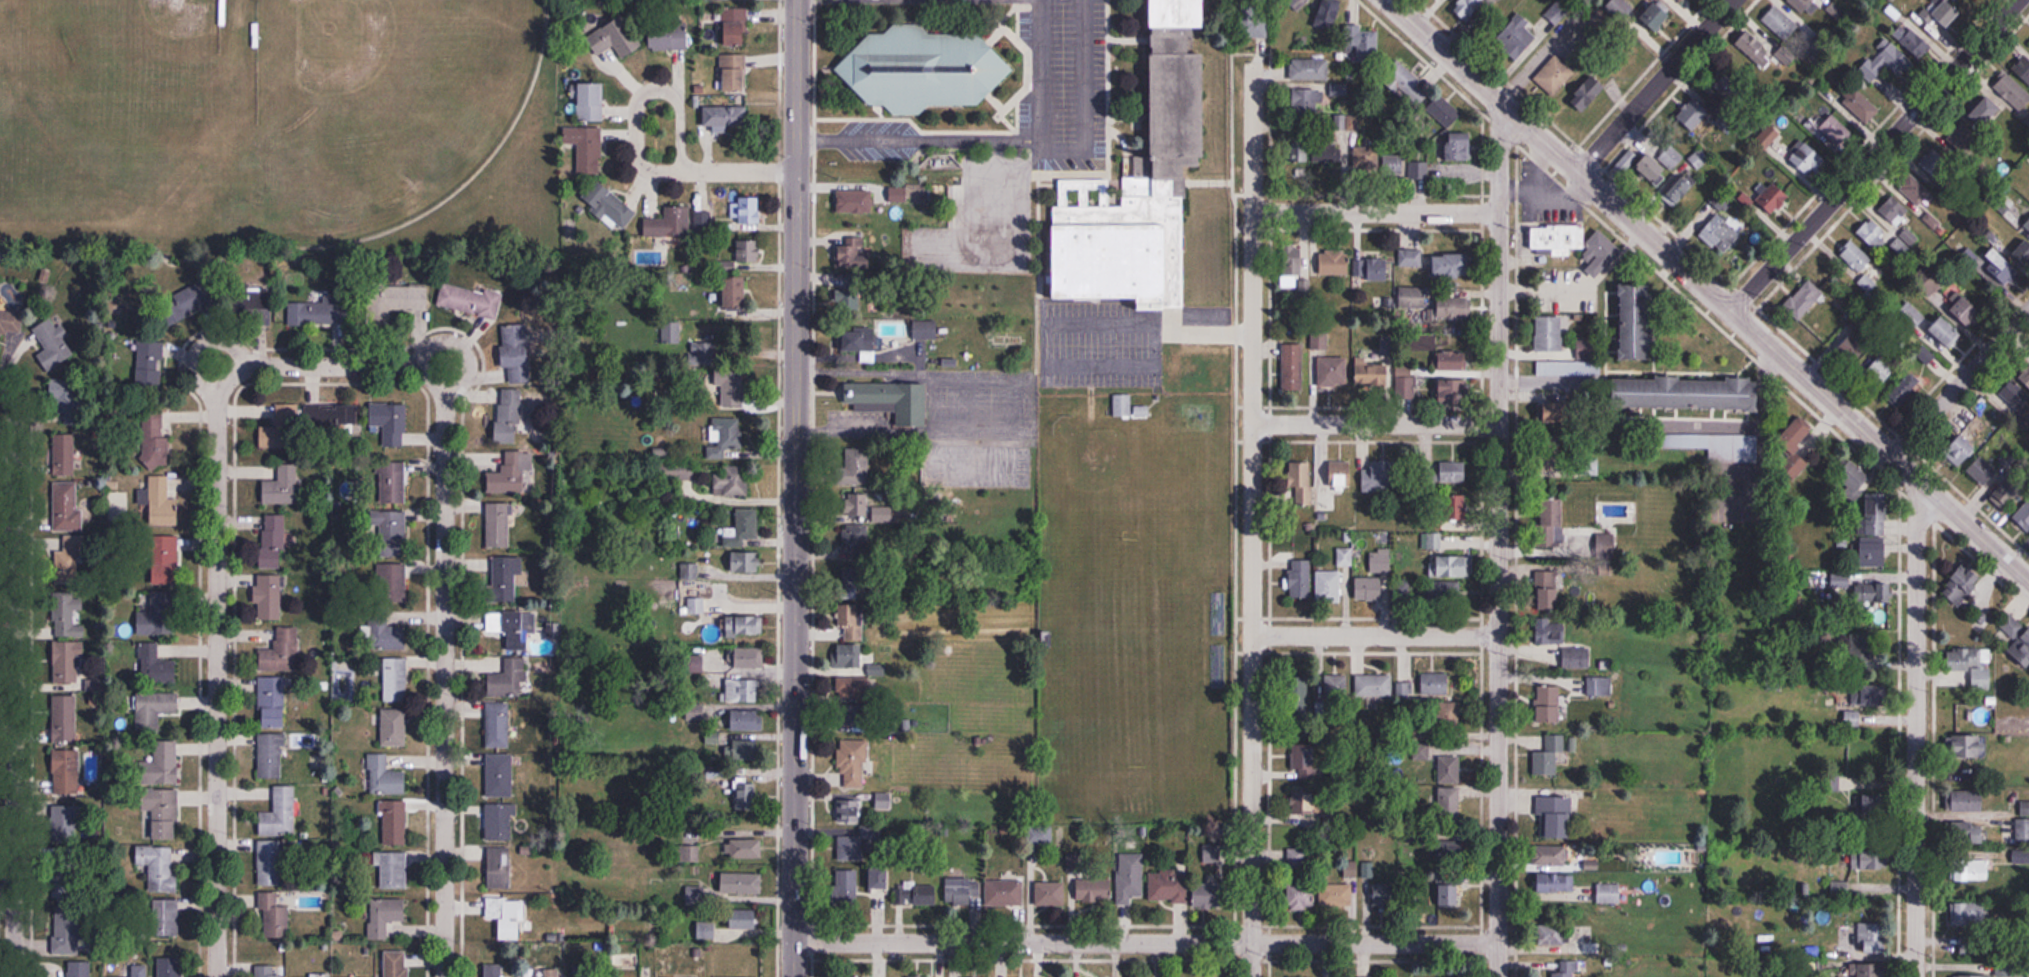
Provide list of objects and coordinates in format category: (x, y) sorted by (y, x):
building: (1684, 1)
building: (1298, 4)
building: (1805, 6)
building: (1468, 8)
building: (1620, 9)
building: (1328, 15)
building: (1656, 17)
building: (1940, 20)
building: (1780, 22)
building: (1254, 24)
building: (734, 29)
building: (628, 33)
building: (1518, 34)
building: (601, 40)
building: (669, 40)
building: (1913, 40)
building: (1363, 44)
building: (1752, 47)
building: (1888, 62)
building: (2022, 66)
road: (1033, 69)
building: (1309, 69)
building: (923, 70)
park: (130, 71)
road: (1078, 71)
building: (733, 72)
building: (1558, 73)
building: (1404, 84)
road: (780, 86)
road: (1656, 86)
building: (1729, 90)
building: (2012, 92)
building: (1588, 93)
building: (1306, 100)
building: (590, 102)
building: (1860, 105)
park: (382, 108)
building: (1444, 111)
building: (1985, 112)
building: (724, 116)
building: (1695, 116)
road: (680, 124)
building: (1835, 129)
building: (1768, 136)
road: (916, 137)
building: (1964, 137)
road: (1054, 140)
building: (1457, 147)
building: (586, 148)
building: (1327, 155)
road: (1875, 155)
building: (1366, 158)
building: (1699, 158)
building: (1807, 159)
building: (1393, 165)
building: (1937, 165)
building: (1653, 169)
road: (672, 170)
building: (1418, 170)
building: (1681, 188)
building: (1914, 190)
building: (898, 194)
building: (1773, 198)
building: (854, 202)
building: (609, 205)
building: (749, 210)
building: (1894, 211)
road: (1376, 212)
building: (669, 223)
building: (2027, 223)
building: (1721, 233)
building: (1873, 234)
building: (1558, 237)
building: (1599, 245)
building: (1122, 246)
building: (747, 251)
building: (853, 252)
building: (2023, 253)
building: (1854, 256)
building: (1410, 258)
building: (1296, 264)
building: (1334, 264)
building: (1999, 264)
building: (1451, 266)
building: (1372, 270)
road: (1708, 289)
building: (734, 291)
building: (857, 291)
building: (192, 298)
building: (1413, 298)
building: (470, 300)
building: (1804, 300)
building: (394, 301)
building: (1454, 308)
building: (315, 312)
building: (1913, 313)
building: (1634, 320)
building: (11, 321)
building: (925, 329)
building: (671, 332)
building: (1946, 332)
road: (1207, 333)
building: (1549, 334)
building: (856, 340)
parking lot: (1095, 343)
building: (54, 344)
building: (701, 353)
building: (515, 356)
building: (1453, 359)
building: (1575, 361)
road: (330, 365)
building: (149, 366)
building: (1292, 366)
building: (1333, 372)
building: (1372, 374)
building: (2025, 376)
road: (1960, 382)
building: (1406, 386)
road: (2, 387)
building: (732, 388)
building: (1906, 388)
building: (1454, 391)
building: (1686, 392)
building: (2016, 397)
building: (891, 400)
building: (63, 401)
building: (1122, 405)
building: (511, 413)
building: (331, 416)
building: (287, 418)
building: (390, 422)
road: (1375, 424)
building: (724, 436)
building: (1970, 438)
building: (154, 440)
building: (1796, 445)
building: (1552, 449)
building: (65, 455)
park: (1096, 457)
building: (1590, 465)
building: (676, 470)
building: (1453, 472)
building: (508, 475)
building: (1341, 476)
building: (1853, 476)
building: (1380, 478)
building: (1997, 479)
building: (391, 482)
building: (731, 483)
building: (1301, 483)
road: (796, 488)
building: (280, 490)
building: (853, 493)
building: (1326, 501)
building: (162, 503)
building: (1453, 506)
building: (66, 508)
road: (1252, 518)
building: (2023, 518)
building: (1552, 522)
building: (498, 525)
building: (742, 527)
building: (1875, 529)
building: (389, 533)
building: (854, 538)
road: (1498, 539)
building: (273, 541)
building: (1433, 542)
building: (1605, 543)
building: (1344, 557)
building: (165, 560)
building: (69, 561)
building: (746, 561)
building: (1379, 561)
building: (1450, 565)
building: (504, 579)
building: (1301, 579)
building: (1840, 579)
building: (389, 582)
building: (850, 583)
building: (1328, 585)
building: (1961, 585)
building: (1550, 587)
building: (1370, 588)
building: (1400, 590)
building: (1445, 592)
building: (1874, 593)
building: (268, 597)
building: (155, 613)
building: (67, 614)
building: (851, 621)
building: (490, 622)
building: (744, 625)
building: (518, 629)
building: (1550, 630)
building: (385, 632)
road: (1376, 634)
building: (2017, 639)
building: (281, 651)
building: (1867, 654)
building: (848, 655)
building: (749, 657)
building: (66, 662)
building: (155, 665)
building: (1974, 667)
road: (444, 675)
road: (217, 676)
building: (509, 678)
building: (395, 679)
road: (13, 681)
building: (1435, 683)
building: (1374, 684)
building: (852, 685)
building: (1332, 686)
building: (1298, 688)
building: (741, 689)
building: (1870, 694)
building: (273, 702)
building: (1548, 703)
building: (155, 708)
building: (855, 714)
building: (1448, 715)
building: (1852, 717)
building: (64, 718)
building: (747, 719)
building: (498, 725)
building: (393, 727)
road: (1916, 727)
building: (1968, 744)
building: (745, 749)
building: (1548, 752)
building: (271, 755)
building: (1305, 756)
building: (852, 763)
building: (160, 764)
building: (1450, 769)
building: (65, 771)
building: (498, 775)
building: (385, 777)
building: (746, 796)
building: (1968, 799)
building: (1303, 800)
building: (1868, 805)
building: (2026, 806)
building: (1449, 807)
building: (850, 811)
building: (162, 812)
building: (280, 814)
building: (1554, 817)
building: (499, 821)
building: (64, 823)
building: (393, 823)
building: (2022, 830)
building: (1967, 833)
building: (1042, 835)
building: (746, 848)
building: (850, 848)
building: (1450, 849)
building: (1550, 856)
building: (2020, 857)
building: (1864, 858)
building: (269, 864)
building: (159, 867)
building: (499, 868)
building: (1349, 868)
building: (393, 870)
building: (1976, 870)
building: (879, 878)
building: (1130, 878)
building: (1299, 881)
building: (1556, 883)
building: (742, 884)
building: (1167, 886)
building: (846, 887)
building: (1094, 890)
building: (961, 891)
building: (1857, 892)
building: (1004, 893)
building: (1608, 893)
road: (6, 894)
building: (1050, 894)
building: (1383, 894)
building: (1449, 894)
building: (916, 895)
building: (1336, 895)
building: (1209, 896)
building: (695, 897)
building: (1971, 913)
building: (384, 916)
building: (506, 916)
building: (274, 917)
building: (165, 919)
building: (744, 919)
building: (705, 930)
building: (1552, 934)
building: (1870, 936)
road: (1146, 941)
building: (68, 942)
building: (396, 964)
building: (170, 967)
building: (79, 969)
building: (492, 970)
building: (1875, 970)
building: (139, 971)
building: (268, 971)
building: (588, 972)
building: (1564, 972)
building: (1973, 975)
building: (295, 976)

